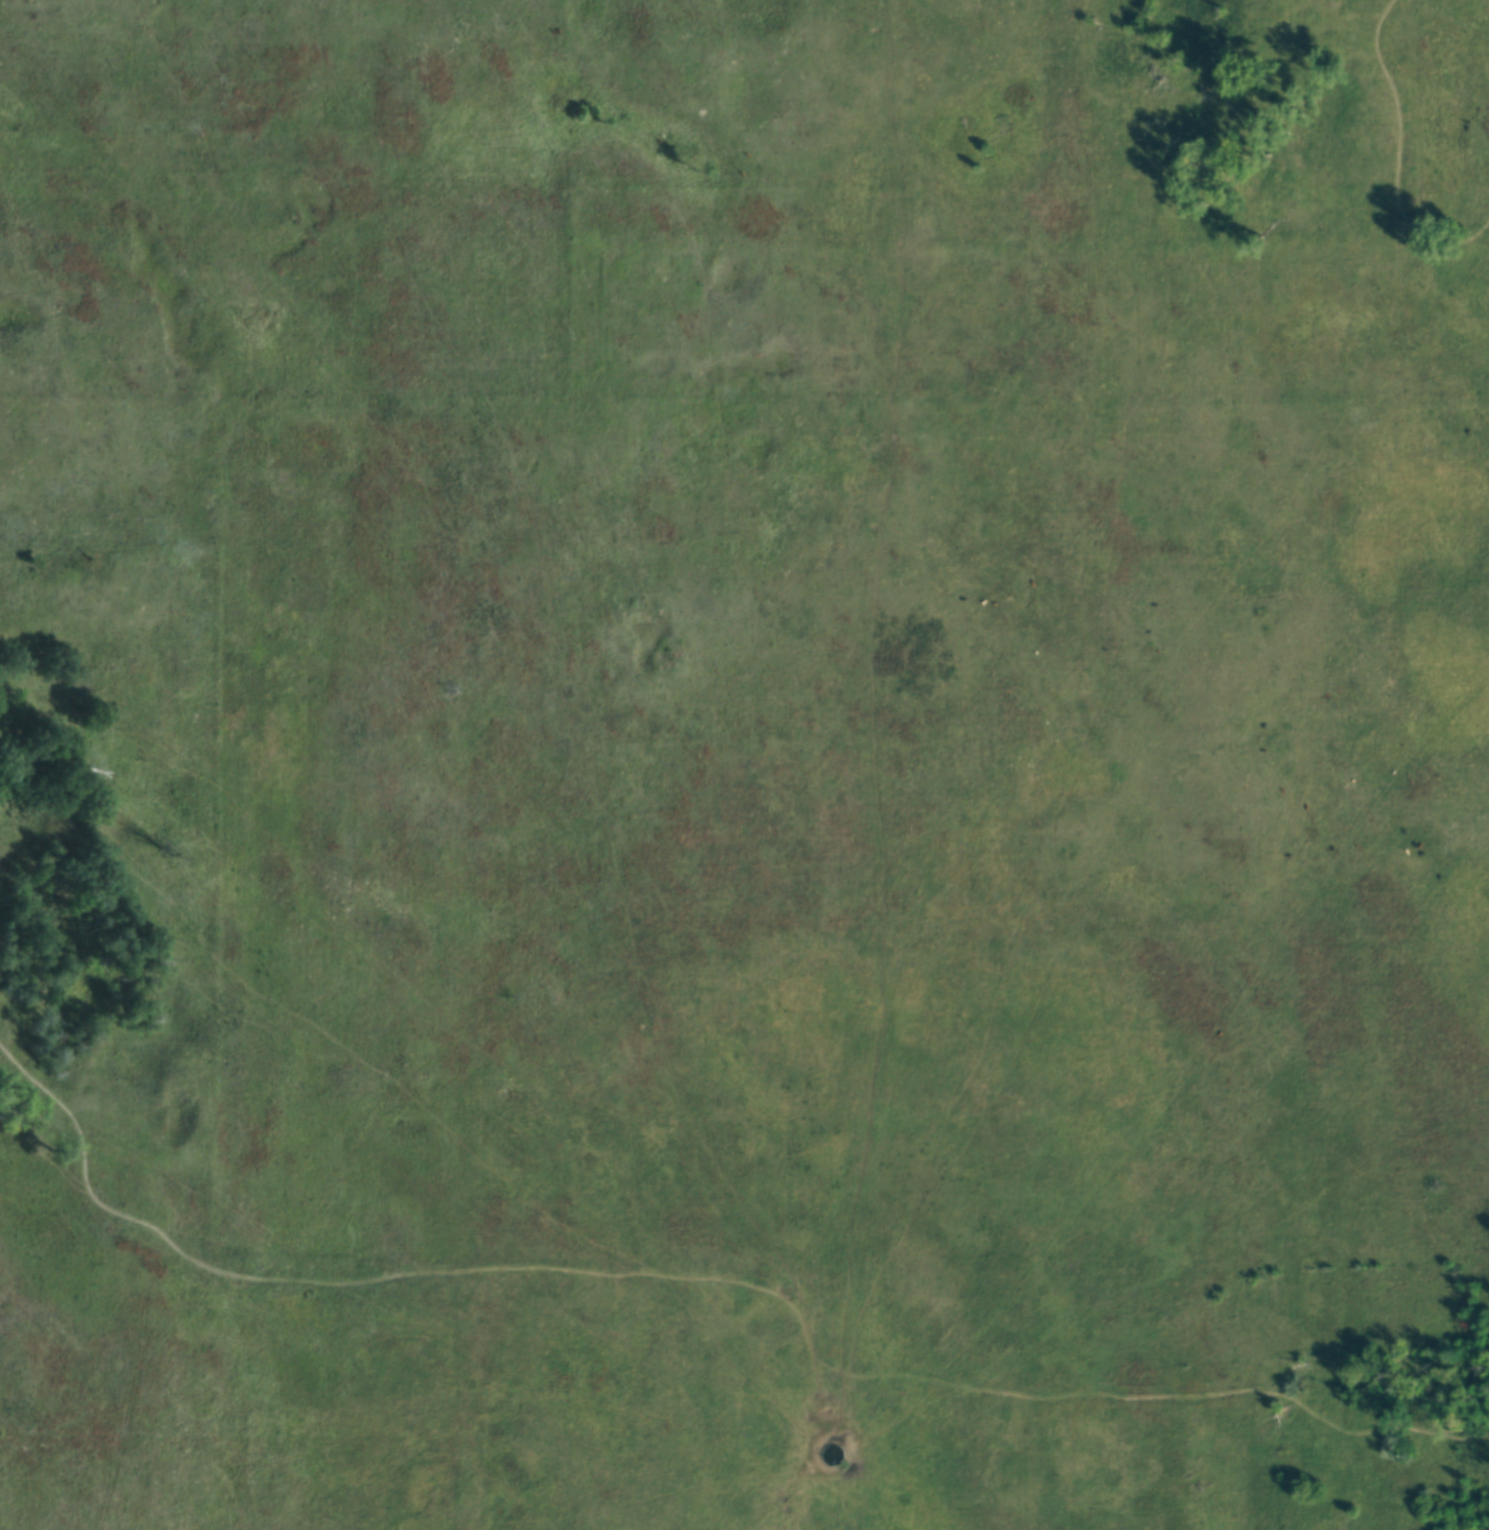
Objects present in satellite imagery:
road: (1396, 158)
road: (718, 1277)

